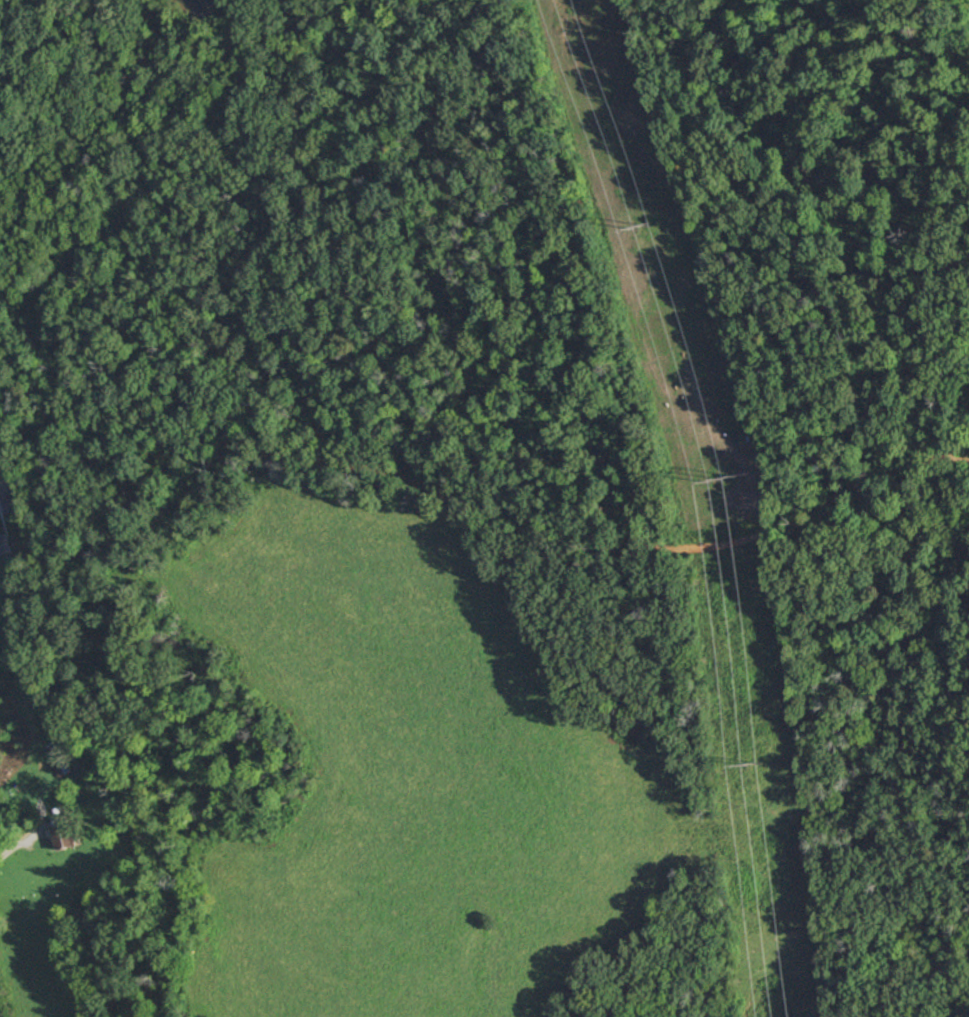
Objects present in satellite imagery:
power tower: (642, 222)
power tower: (723, 474)
road: (490, 504)
power tower: (751, 762)
building: (65, 834)

